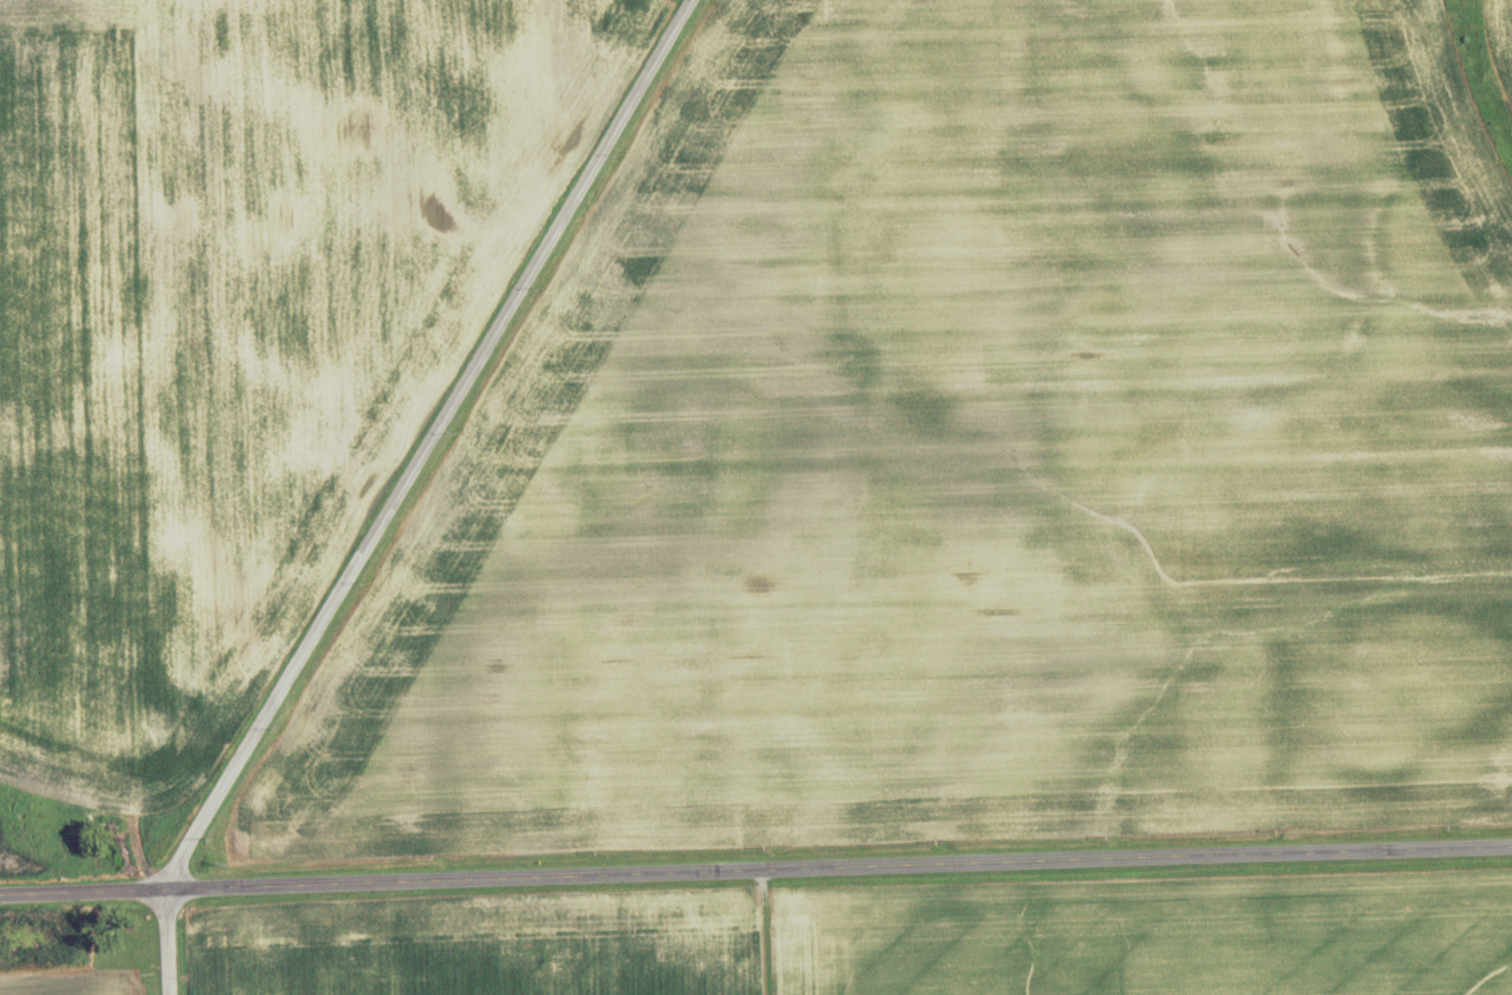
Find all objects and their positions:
road: (392, 489)
road: (755, 872)

